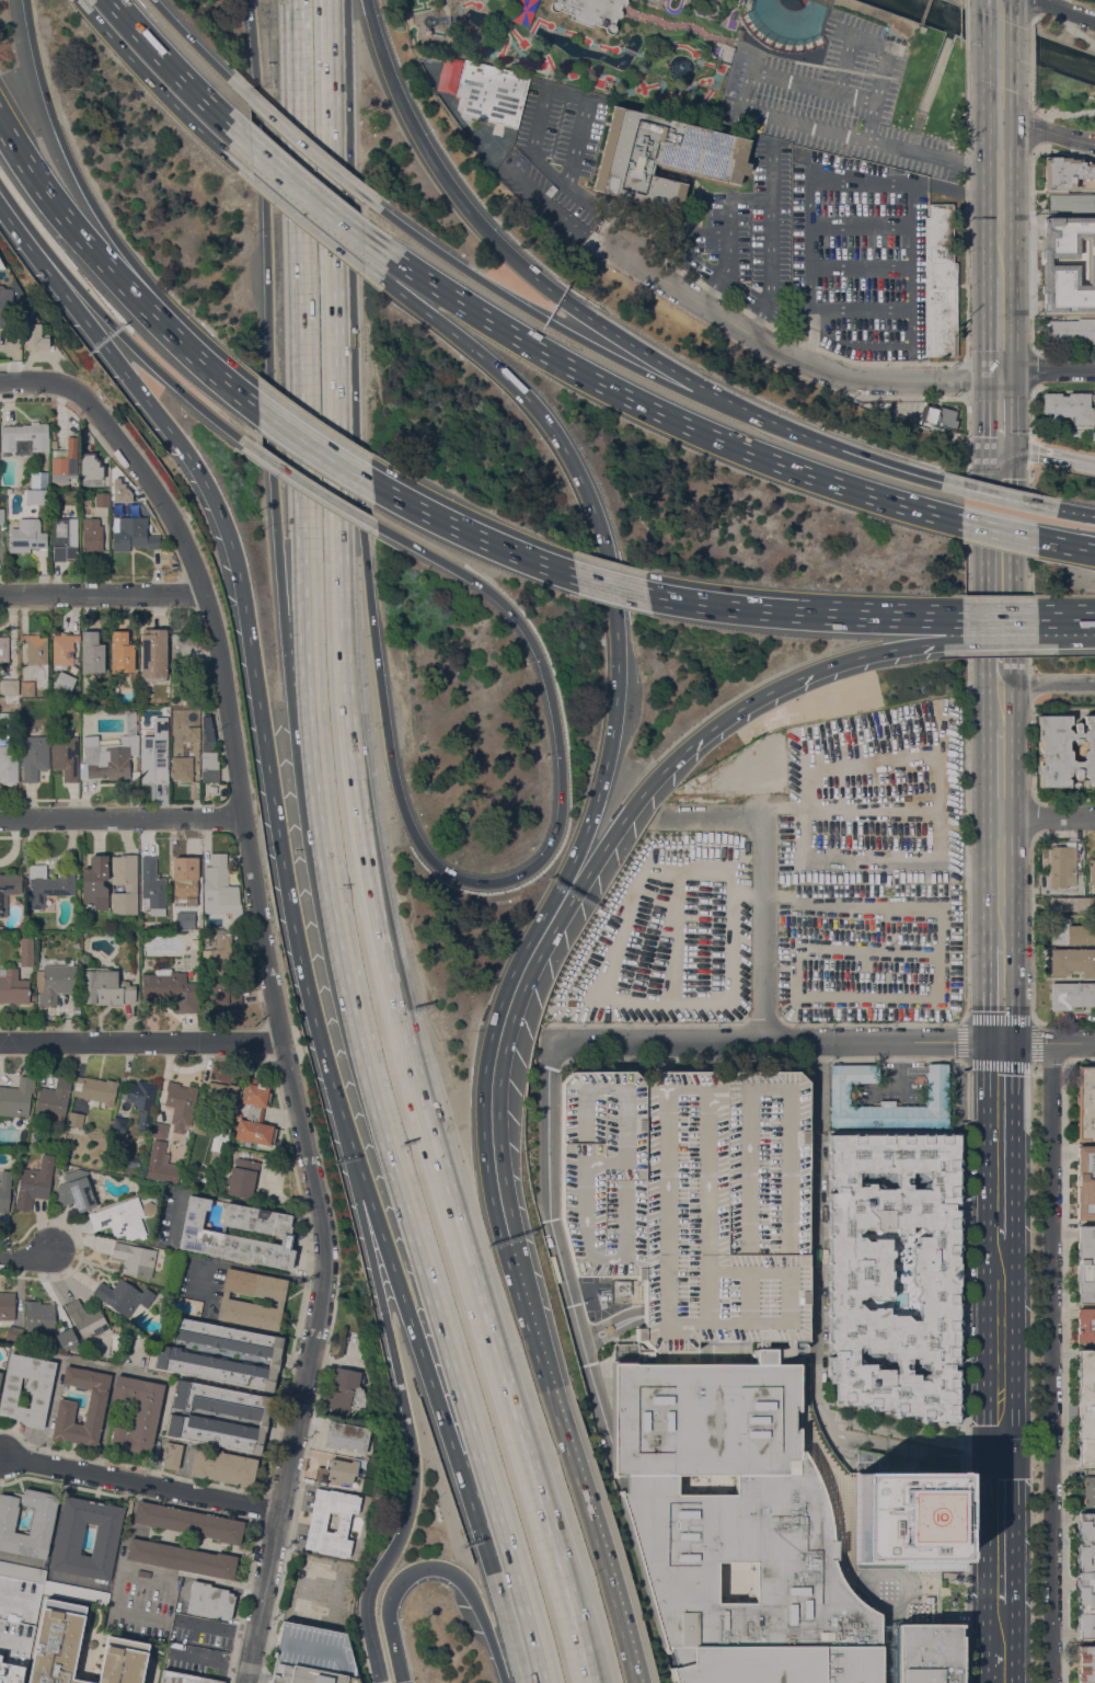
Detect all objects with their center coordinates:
road: (965, 3)
road: (1047, 3)
building: (747, 4)
road: (83, 7)
road: (367, 8)
road: (1029, 9)
road: (998, 10)
building: (523, 11)
building: (591, 11)
road: (922, 11)
road: (1046, 15)
road: (966, 23)
building: (739, 33)
road: (998, 35)
river: (999, 35)
road: (1084, 36)
road: (289, 37)
road: (187, 38)
park: (593, 44)
road: (1030, 47)
road: (171, 62)
road: (36, 65)
road: (936, 65)
road: (152, 82)
road: (998, 88)
road: (1030, 88)
building: (491, 92)
road: (567, 94)
parking lot: (835, 99)
road: (741, 105)
road: (1063, 112)
road: (538, 117)
road: (407, 119)
road: (915, 128)
road: (1030, 130)
road: (1047, 131)
road: (300, 144)
building: (664, 156)
road: (547, 162)
building: (1065, 171)
building: (892, 173)
road: (566, 181)
road: (854, 182)
road: (312, 194)
road: (749, 197)
road: (965, 199)
road: (999, 199)
building: (1072, 202)
road: (729, 214)
road: (301, 217)
road: (334, 217)
building: (1070, 229)
road: (497, 245)
road: (1030, 249)
road: (729, 251)
road: (679, 256)
road: (770, 265)
building: (1070, 265)
road: (109, 266)
road: (266, 267)
road: (137, 270)
road: (465, 270)
road: (66, 274)
building: (938, 282)
building: (1069, 295)
building: (4, 305)
road: (999, 324)
building: (1071, 330)
road: (610, 332)
building: (33, 333)
road: (295, 343)
road: (853, 344)
road: (624, 354)
road: (795, 354)
road: (1030, 368)
road: (1046, 370)
road: (37, 379)
road: (192, 400)
road: (250, 401)
building: (1068, 407)
road: (999, 411)
road: (1030, 412)
road: (667, 413)
building: (941, 416)
building: (922, 425)
building: (937, 430)
building: (24, 438)
road: (815, 438)
building: (54, 443)
road: (313, 446)
traffic signals: (999, 447)
road: (1030, 449)
road: (1047, 454)
building: (65, 461)
building: (91, 466)
road: (311, 488)
building: (120, 493)
road: (992, 493)
road: (350, 495)
building: (36, 496)
building: (102, 499)
road: (1068, 511)
building: (1, 515)
road: (998, 529)
road: (472, 530)
building: (91, 534)
building: (131, 534)
building: (26, 536)
building: (64, 538)
road: (1067, 545)
road: (609, 559)
road: (1029, 566)
road: (288, 574)
road: (612, 583)
road: (999, 591)
road: (102, 593)
road: (796, 611)
road: (1001, 616)
road: (1076, 616)
road: (913, 631)
building: (183, 646)
building: (4, 649)
road: (302, 649)
building: (62, 650)
building: (91, 652)
building: (120, 652)
building: (154, 653)
road: (250, 653)
building: (37, 656)
building: (64, 682)
road: (1047, 682)
road: (1029, 686)
building: (27, 688)
building: (10, 690)
building: (188, 690)
building: (54, 692)
road: (729, 708)
building: (113, 712)
building: (9, 718)
building: (193, 733)
road: (1030, 749)
building: (1063, 751)
building: (208, 752)
building: (111, 753)
building: (34, 756)
building: (65, 756)
building: (153, 758)
building: (9, 762)
building: (182, 768)
road: (999, 776)
road: (120, 815)
road: (1031, 816)
road: (1047, 816)
road: (715, 818)
road: (534, 863)
road: (578, 868)
building: (1080, 868)
building: (1063, 869)
building: (1092, 869)
road: (965, 870)
road: (934, 872)
building: (185, 879)
road: (999, 881)
building: (95, 882)
building: (152, 885)
building: (48, 886)
building: (130, 888)
building: (220, 889)
building: (8, 890)
building: (1070, 903)
building: (185, 919)
building: (205, 924)
road: (763, 930)
building: (1071, 931)
building: (194, 938)
building: (26, 951)
building: (218, 957)
building: (734, 959)
road: (1031, 960)
building: (1072, 961)
building: (57, 982)
building: (12, 986)
building: (104, 987)
building: (726, 988)
building: (170, 991)
road: (999, 993)
building: (221, 995)
building: (1071, 995)
building: (39, 1018)
road: (278, 1018)
road: (141, 1038)
road: (823, 1041)
traffic signals: (999, 1042)
road: (664, 1055)
road: (620, 1056)
road: (965, 1061)
road: (1049, 1061)
road: (413, 1068)
road: (484, 1072)
road: (638, 1088)
road: (652, 1088)
road: (763, 1088)
building: (95, 1090)
building: (119, 1090)
road: (581, 1091)
road: (714, 1094)
road: (726, 1094)
building: (844, 1095)
building: (16, 1097)
building: (53, 1099)
building: (221, 1099)
road: (372, 1099)
building: (141, 1100)
building: (1085, 1102)
building: (180, 1103)
building: (254, 1114)
building: (74, 1119)
road: (620, 1120)
building: (118, 1124)
building: (199, 1125)
building: (159, 1130)
road: (999, 1138)
road: (581, 1145)
building: (246, 1155)
building: (134, 1160)
building: (160, 1164)
building: (220, 1176)
building: (242, 1177)
road: (620, 1177)
building: (1085, 1181)
building: (34, 1182)
building: (74, 1190)
building: (4, 1195)
building: (691, 1198)
parking garage: (691, 1198)
road: (619, 1204)
building: (149, 1207)
road: (583, 1209)
building: (120, 1218)
road: (817, 1226)
building: (272, 1230)
road: (381, 1235)
road: (362, 1237)
road: (555, 1245)
road: (744, 1256)
road: (26, 1257)
road: (785, 1257)
building: (135, 1258)
building: (1085, 1262)
road: (247, 1268)
building: (858, 1280)
building: (123, 1296)
road: (744, 1296)
road: (787, 1296)
building: (226, 1298)
building: (7, 1305)
building: (38, 1318)
building: (87, 1320)
road: (662, 1320)
building: (1085, 1324)
road: (612, 1325)
building: (117, 1328)
building: (13, 1333)
building: (67, 1339)
building: (137, 1343)
road: (999, 1343)
building: (182, 1354)
road: (1050, 1362)
road: (1063, 1371)
road: (964, 1373)
building: (0, 1374)
building: (26, 1388)
building: (347, 1394)
building: (1085, 1407)
road: (439, 1409)
building: (65, 1410)
building: (136, 1413)
building: (252, 1416)
road: (908, 1431)
building: (347, 1436)
road: (902, 1447)
traffic signals: (998, 1451)
building: (171, 1454)
road: (568, 1463)
building: (223, 1466)
building: (369, 1469)
road: (411, 1469)
building: (336, 1472)
road: (142, 1484)
building: (1088, 1491)
building: (728, 1508)
parking lot: (728, 1508)
building: (908, 1515)
building: (42, 1519)
building: (318, 1520)
building: (188, 1522)
road: (999, 1524)
building: (68, 1538)
road: (251, 1554)
building: (181, 1558)
road: (148, 1568)
building: (22, 1571)
building: (143, 1573)
building: (1086, 1573)
road: (405, 1575)
building: (76, 1592)
road: (511, 1593)
building: (209, 1600)
road: (1000, 1617)
road: (175, 1636)
building: (57, 1642)
building: (93, 1644)
road: (372, 1651)
road: (495, 1656)
building: (0, 1657)
building: (311, 1657)
building: (833, 1659)
building: (123, 1660)
road: (999, 1660)
building: (1086, 1663)
building: (10, 1673)
building: (183, 1678)
traffic signals: (401, 1680)
road: (401, 1681)

